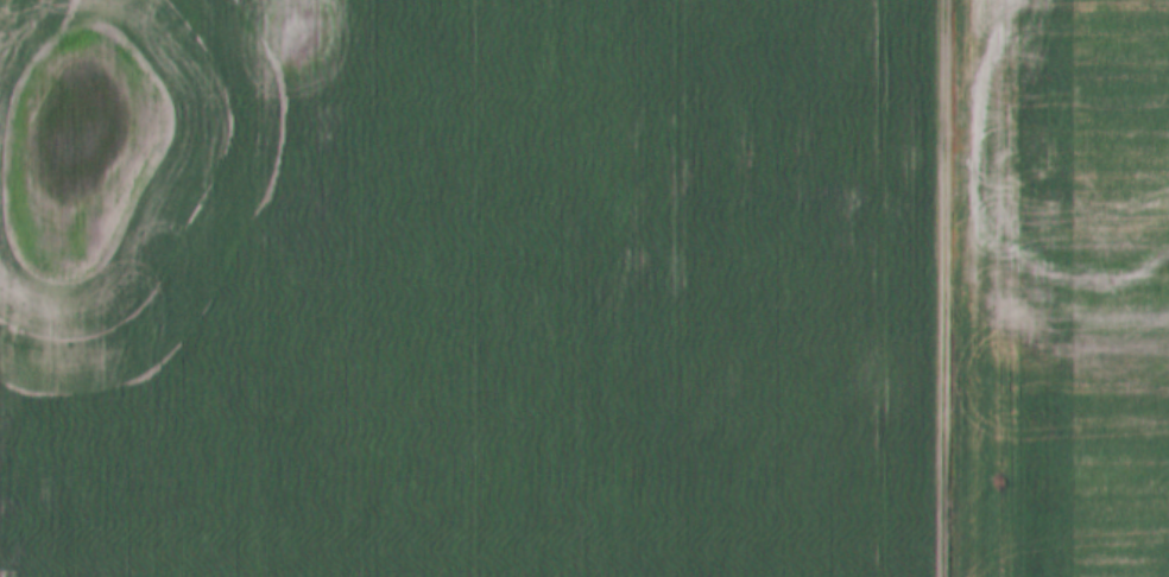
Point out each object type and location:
road: (947, 287)

